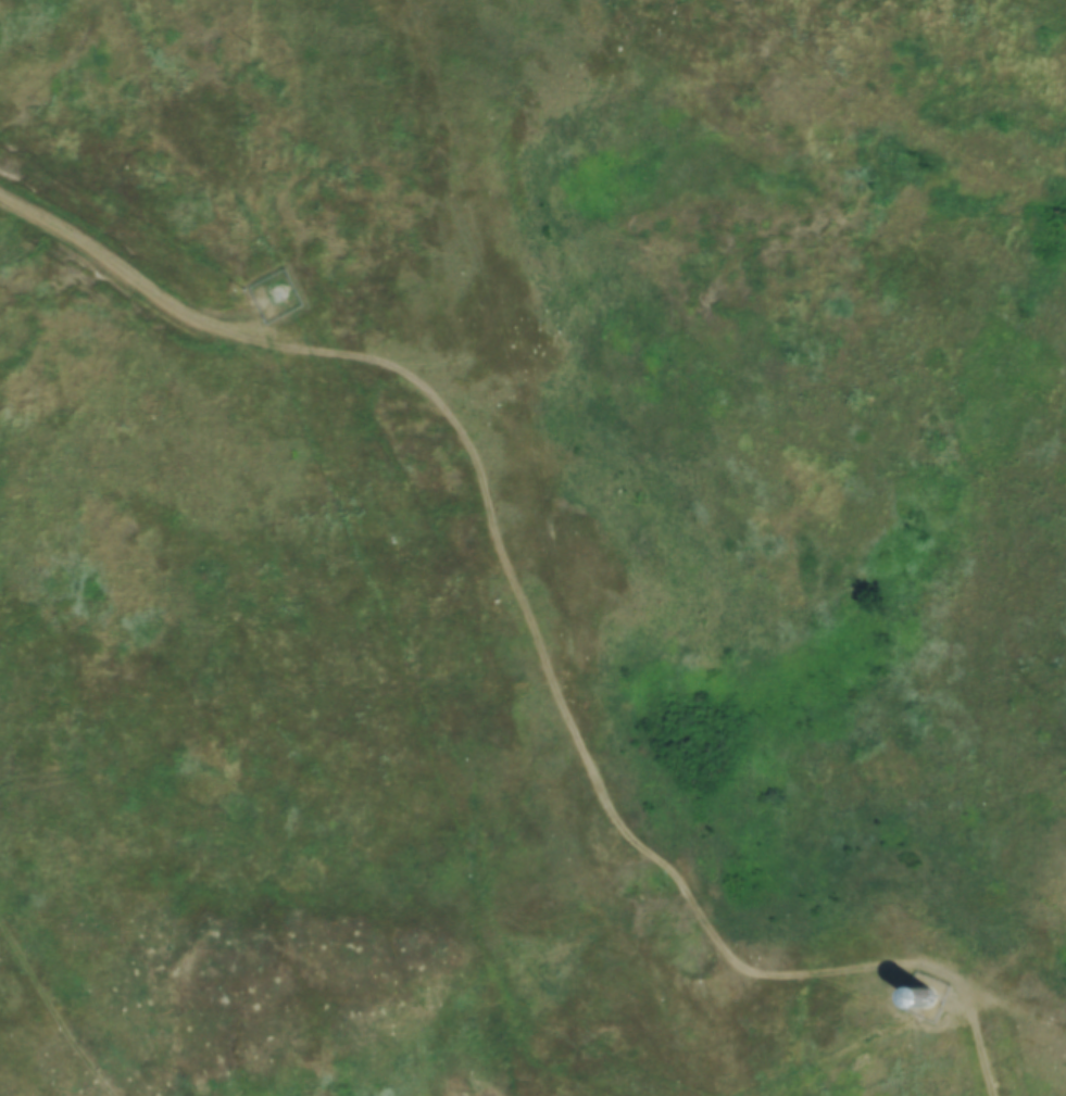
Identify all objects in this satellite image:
water tower: (923, 996)

